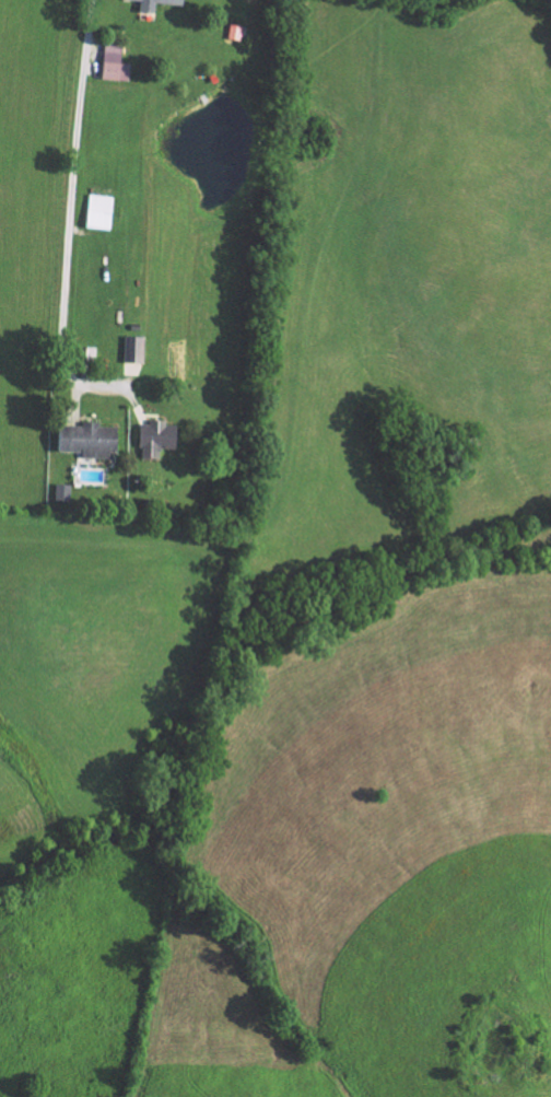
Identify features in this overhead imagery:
building: (149, 9)
road: (77, 164)
building: (102, 212)
building: (136, 349)
building: (157, 437)
building: (91, 440)
building: (65, 491)

